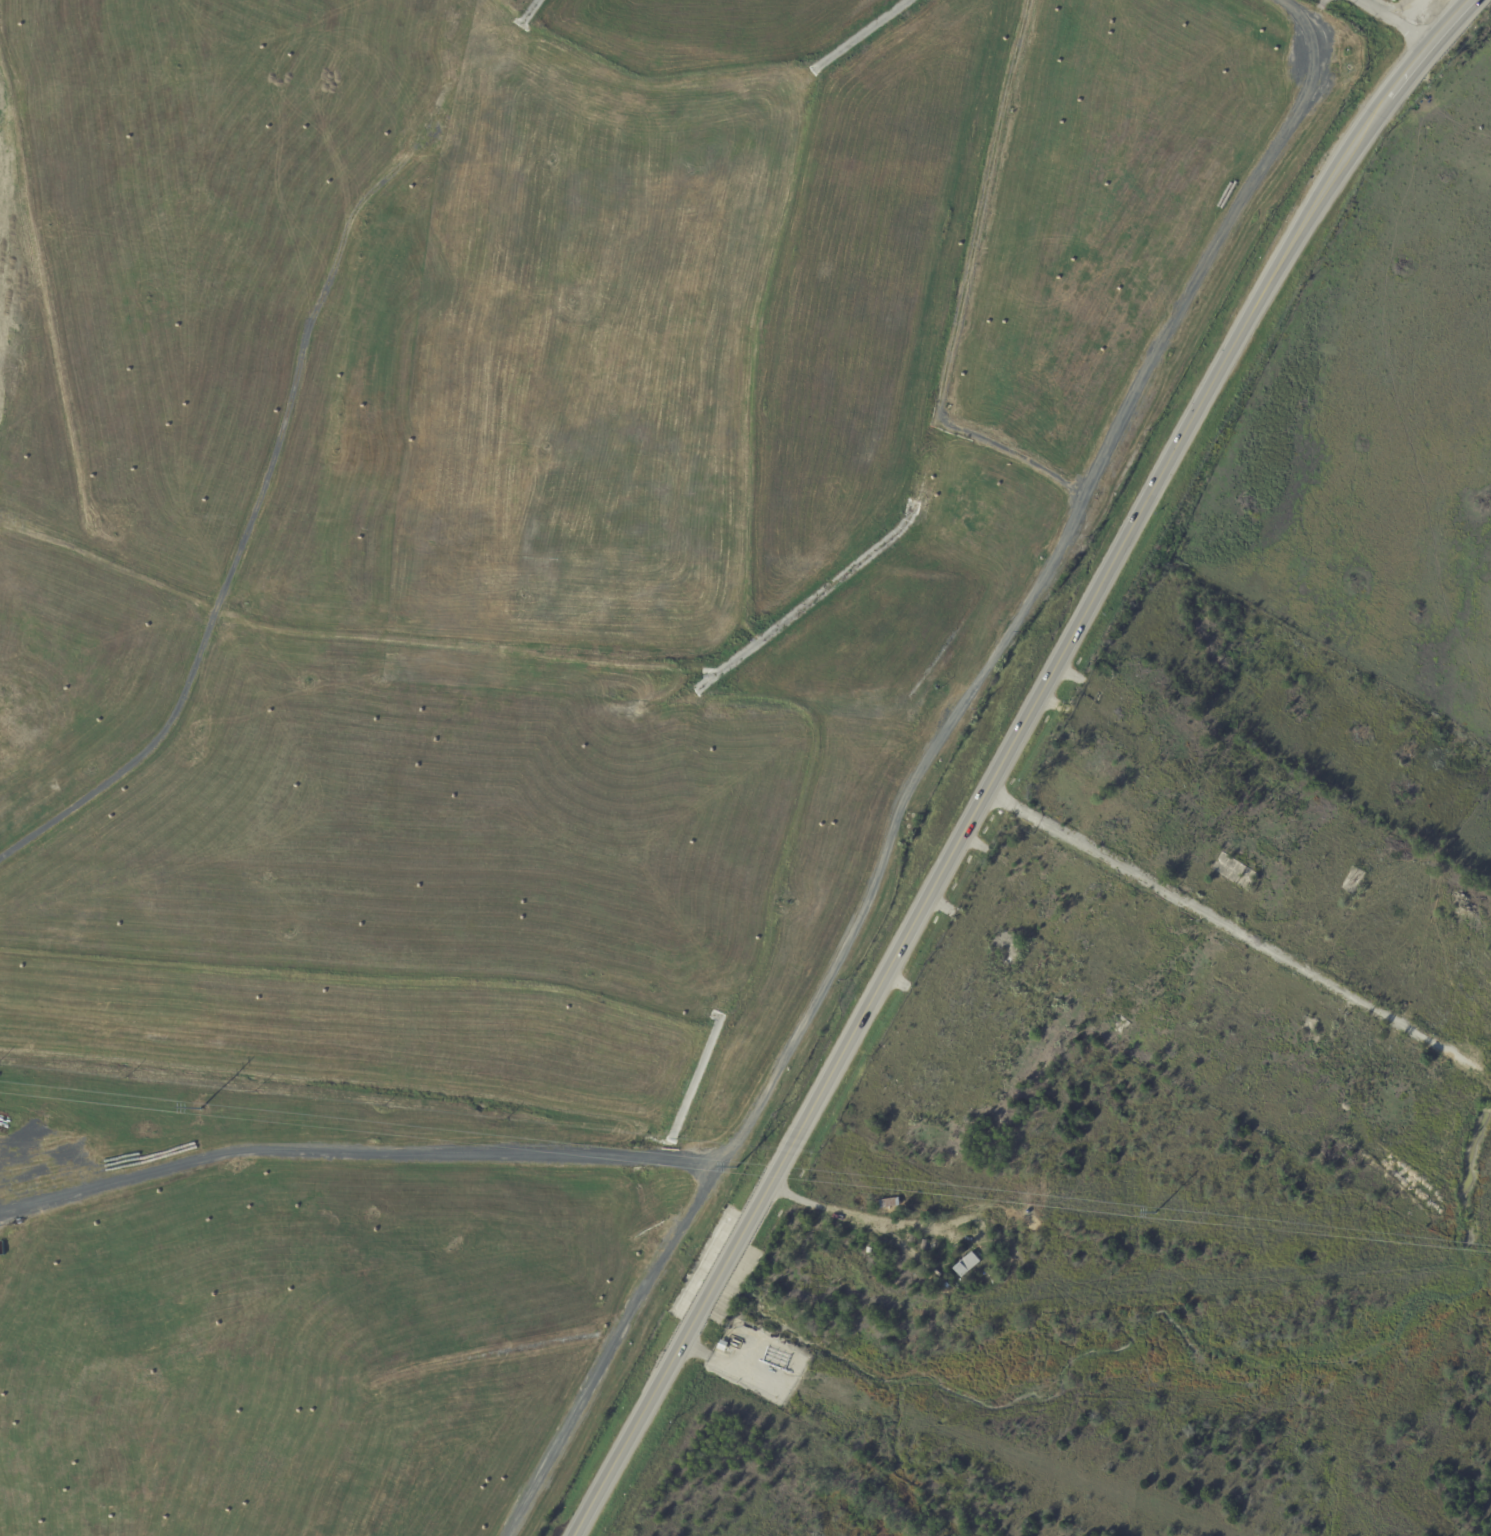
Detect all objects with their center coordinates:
building: (1395, 1)
road: (1395, 19)
road: (1424, 44)
landfill: (506, 644)
road: (1063, 651)
road: (883, 854)
road: (1240, 930)
power tower: (201, 1109)
road: (354, 1158)
power tower: (736, 1168)
building: (889, 1203)
road: (851, 1213)
power tower: (1153, 1214)
road: (1485, 1239)
building: (925, 1244)
building: (967, 1264)
building: (854, 1265)
road: (723, 1270)
road: (634, 1430)

